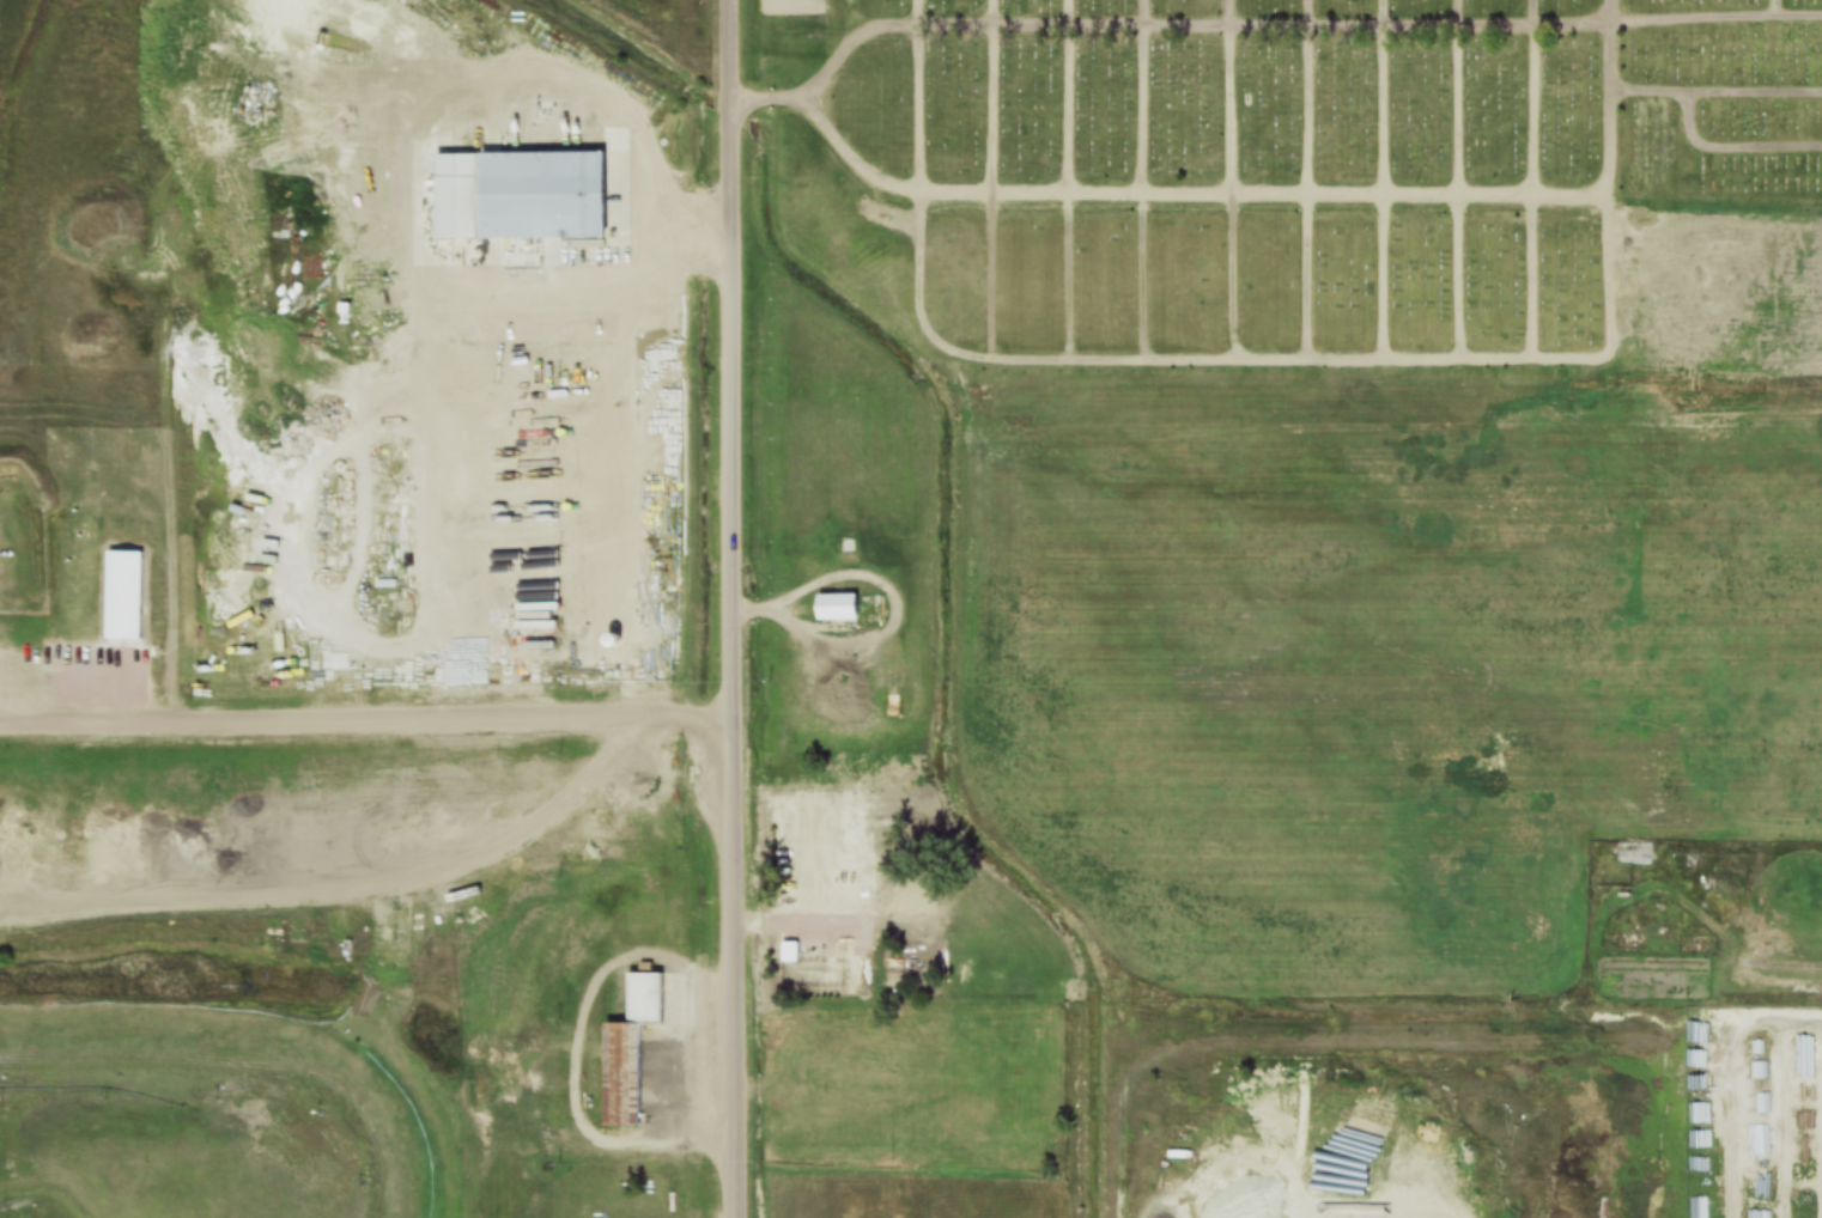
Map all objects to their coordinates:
road: (1152, 31)
road: (1787, 44)
road: (1715, 89)
road: (1227, 95)
road: (917, 96)
road: (988, 96)
road: (1063, 96)
road: (1141, 96)
road: (1306, 96)
road: (1380, 96)
road: (1458, 97)
road: (1535, 97)
road: (1729, 146)
road: (1280, 191)
building: (516, 197)
road: (617, 335)
building: (122, 596)
road: (733, 608)
building: (834, 609)
building: (1635, 858)
building: (209, 916)
road: (1311, 1047)
building: (627, 1052)

